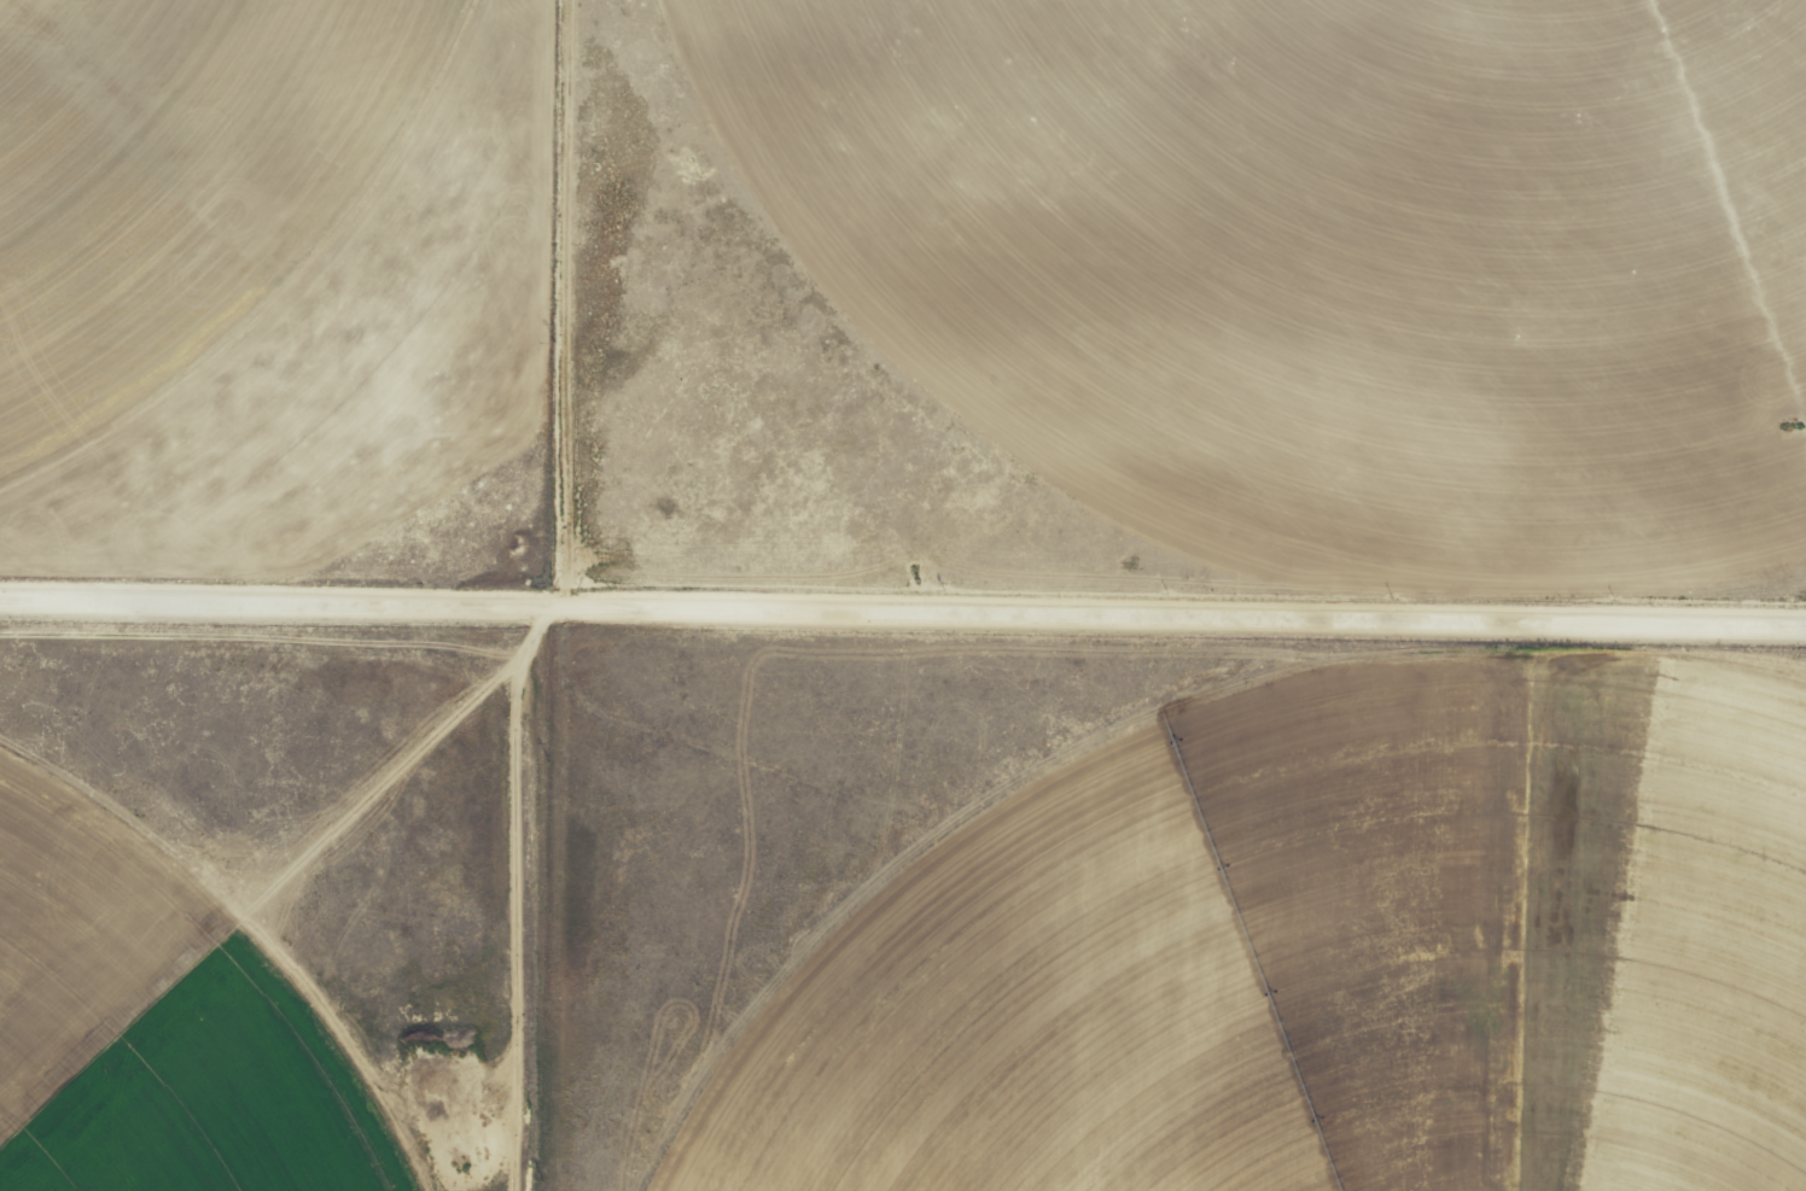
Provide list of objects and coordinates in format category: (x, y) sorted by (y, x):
road: (566, 304)
road: (903, 611)
building: (472, 1174)

